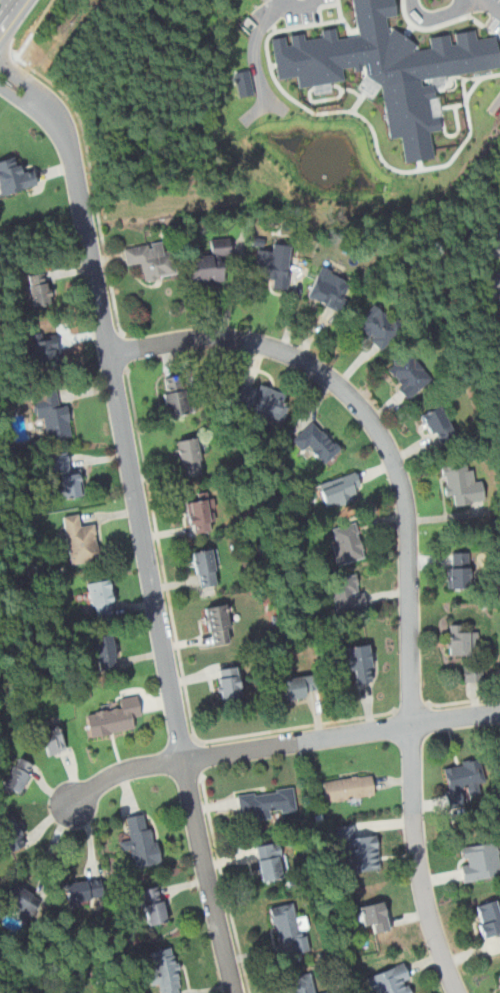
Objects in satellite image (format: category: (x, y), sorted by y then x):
road: (294, 3)
road: (492, 5)
parking lot: (302, 10)
road: (441, 15)
parking lot: (495, 16)
road: (14, 20)
road: (343, 20)
road: (445, 24)
road: (409, 30)
road: (255, 48)
road: (9, 63)
building: (387, 68)
road: (458, 76)
road: (274, 77)
building: (244, 83)
road: (316, 88)
road: (466, 90)
road: (277, 105)
road: (451, 105)
road: (497, 105)
road: (257, 111)
road: (471, 126)
road: (453, 134)
road: (87, 149)
road: (380, 156)
building: (13, 175)
building: (495, 247)
building: (151, 260)
building: (211, 261)
building: (274, 265)
building: (494, 280)
building: (39, 288)
building: (331, 288)
building: (378, 326)
road: (123, 350)
building: (46, 351)
building: (409, 374)
building: (175, 396)
building: (259, 399)
building: (53, 415)
building: (438, 424)
building: (316, 441)
building: (190, 456)
building: (58, 461)
building: (72, 484)
building: (462, 484)
building: (339, 489)
building: (199, 514)
road: (140, 518)
building: (80, 539)
building: (347, 542)
road: (161, 554)
road: (410, 560)
building: (206, 567)
building: (459, 570)
building: (348, 592)
building: (101, 598)
building: (220, 623)
building: (459, 641)
building: (106, 651)
building: (357, 662)
building: (229, 682)
building: (299, 686)
road: (464, 701)
road: (410, 709)
building: (115, 717)
road: (298, 726)
building: (53, 740)
road: (280, 743)
road: (200, 757)
building: (498, 765)
building: (18, 774)
building: (462, 780)
building: (349, 788)
building: (267, 802)
building: (12, 833)
building: (141, 839)
building: (363, 853)
building: (270, 860)
building: (480, 861)
road: (224, 883)
building: (84, 891)
building: (23, 898)
building: (154, 905)
building: (374, 915)
building: (489, 917)
building: (291, 927)
building: (166, 971)
building: (498, 978)
building: (391, 980)
building: (301, 984)
building: (64, 992)
building: (324, 992)

